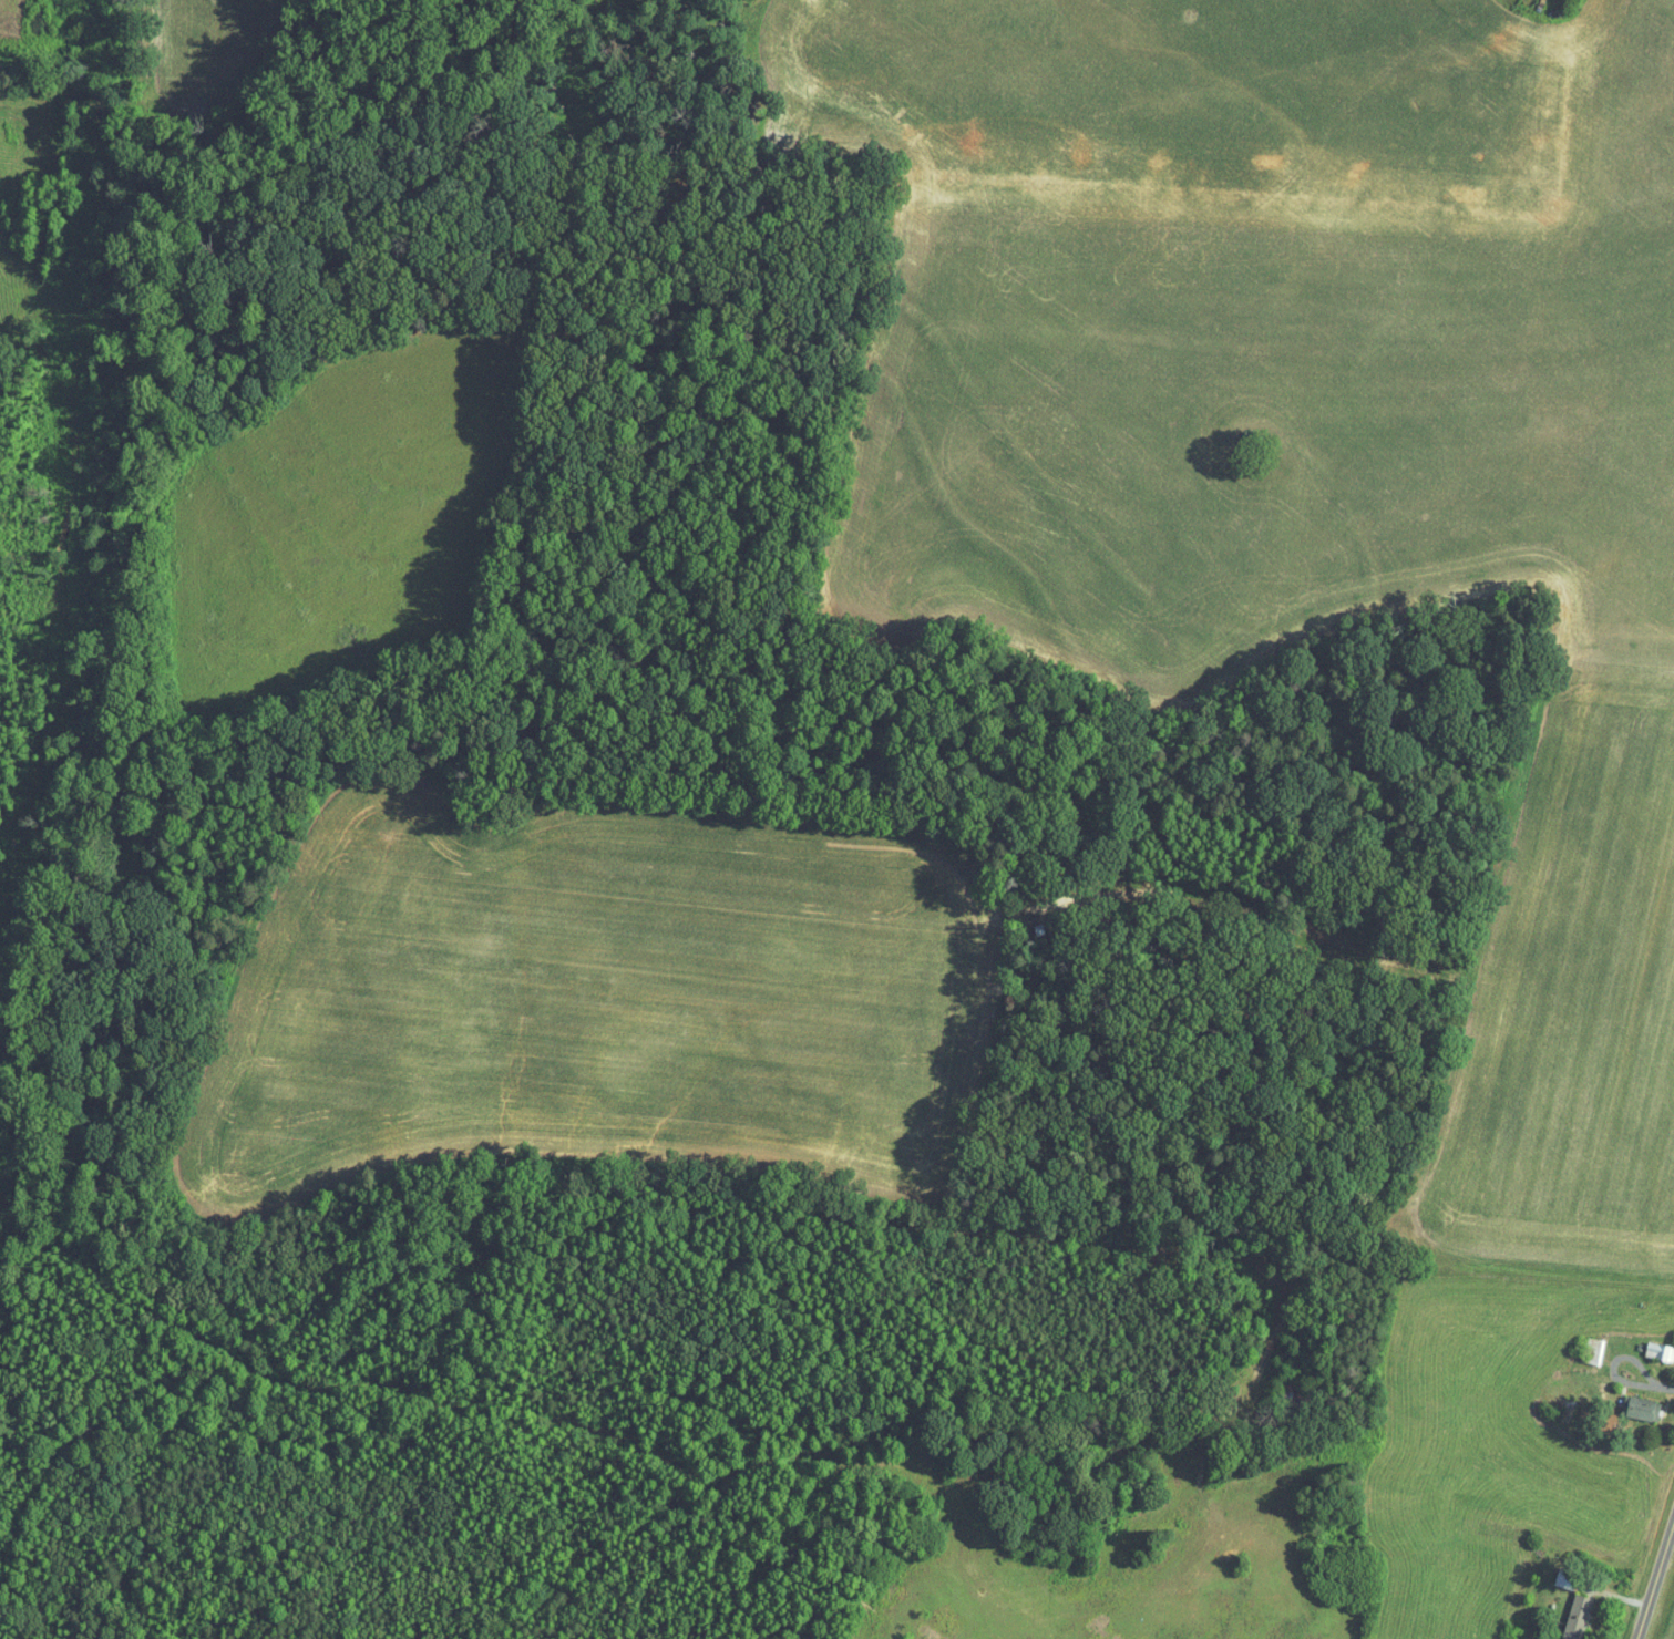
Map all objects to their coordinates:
building: (1595, 1350)
building: (1660, 1350)
road: (1657, 1403)
building: (1646, 1409)
road: (1657, 1427)
road: (1653, 1571)
building: (1567, 1579)
road: (1610, 1606)
building: (1578, 1616)

